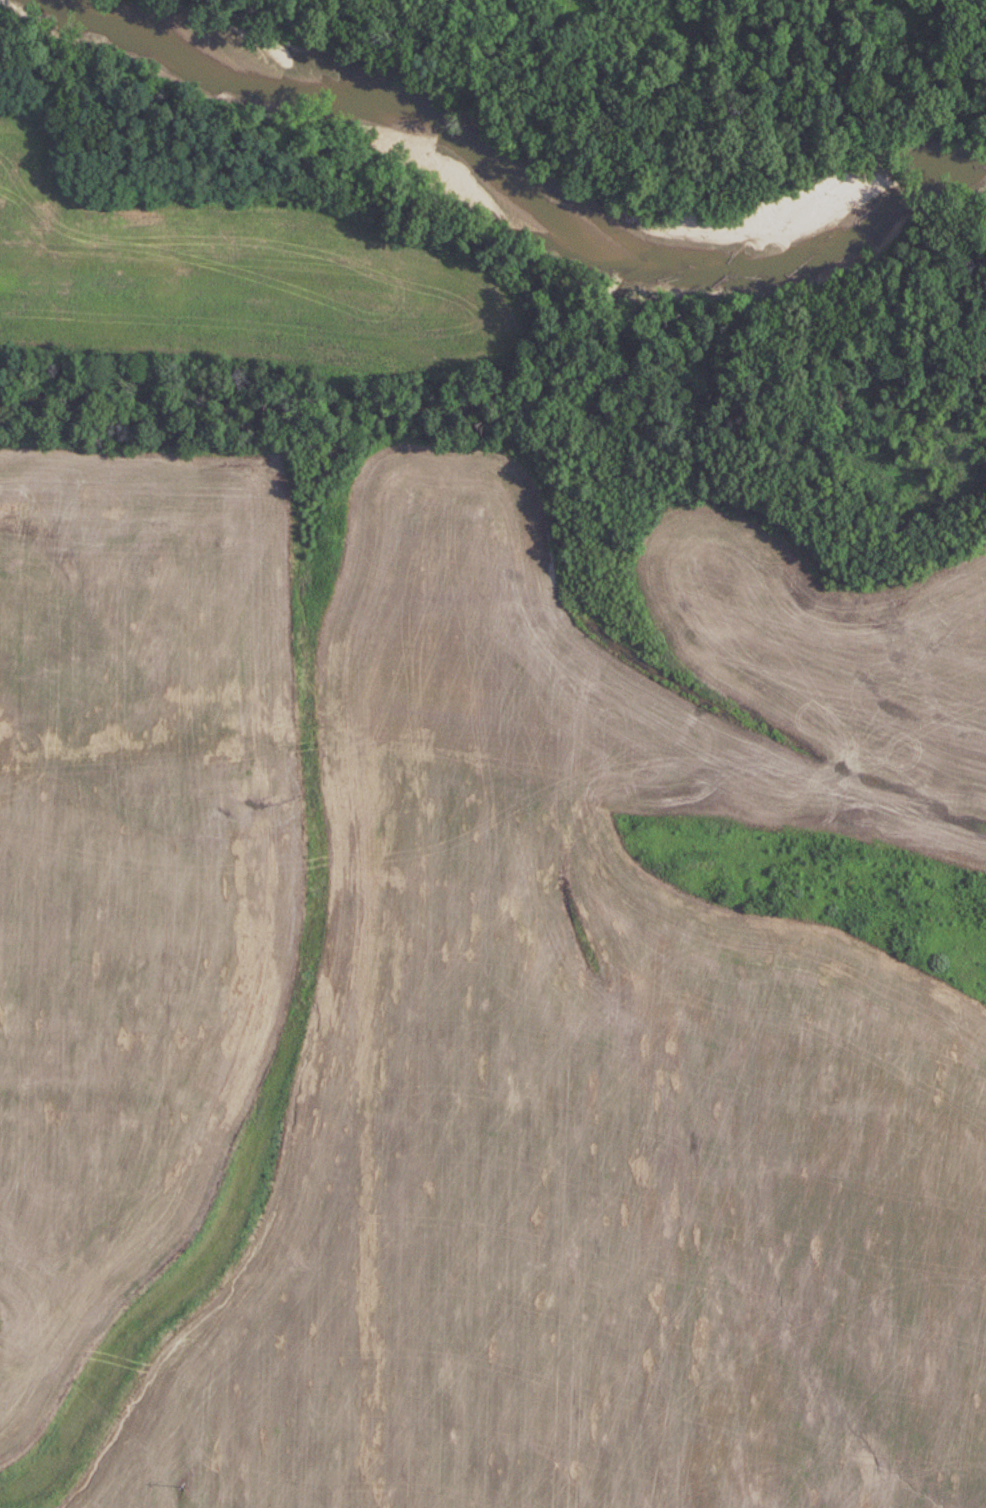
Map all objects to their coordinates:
river: (516, 201)

